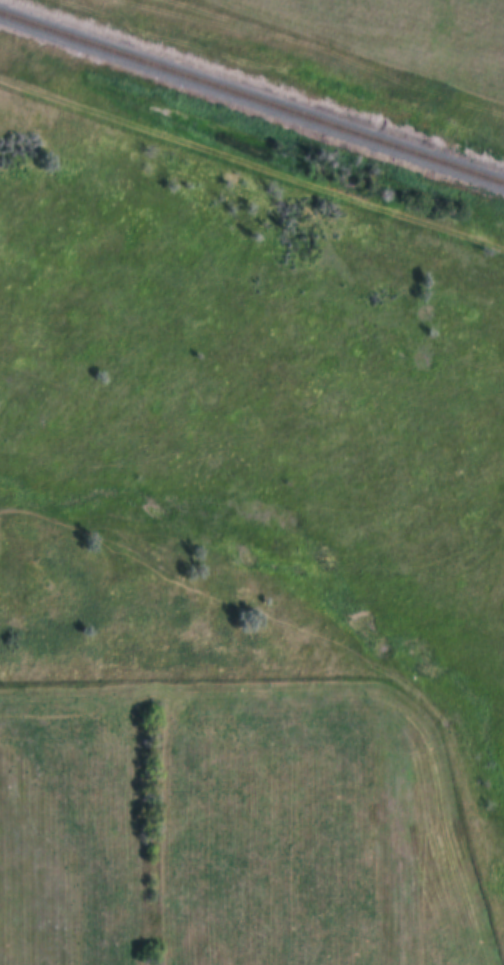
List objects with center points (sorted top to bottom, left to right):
railway: (252, 98)

